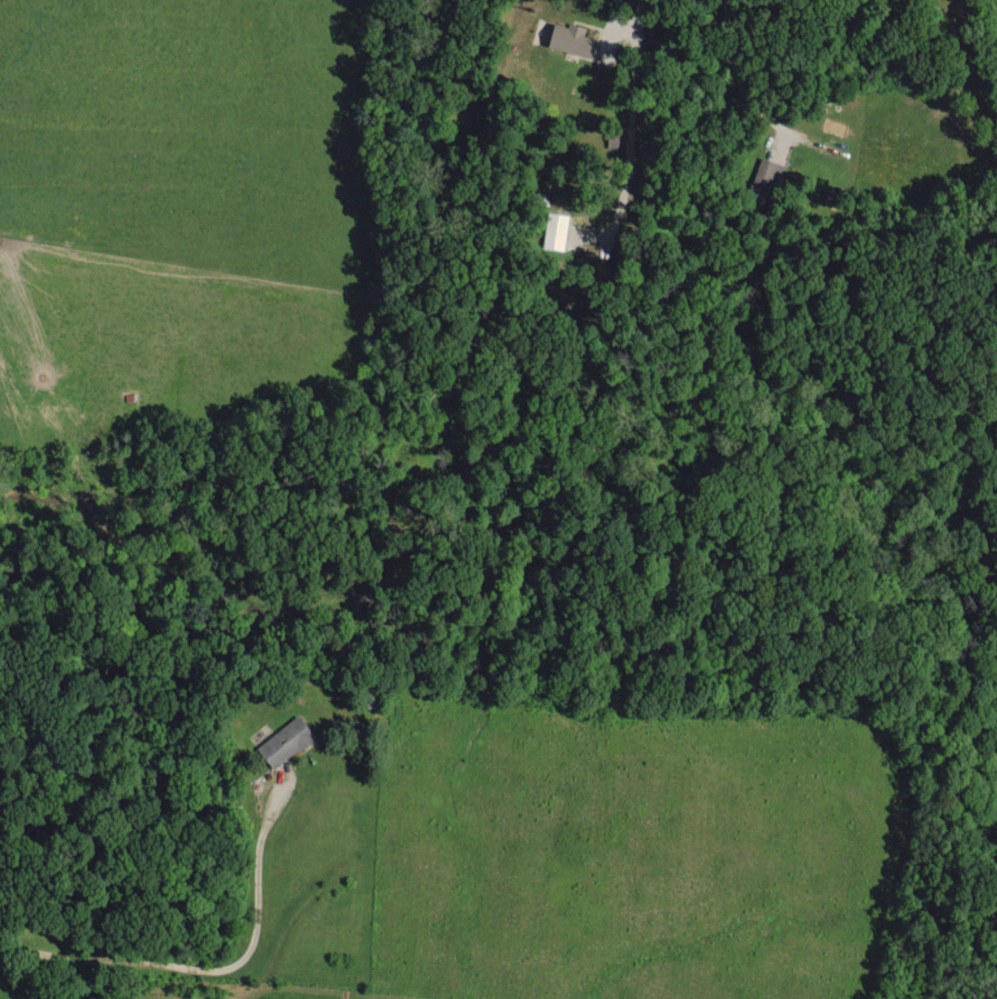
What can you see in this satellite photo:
road: (610, 6)
building: (572, 39)
building: (764, 177)
building: (556, 222)
building: (285, 741)

